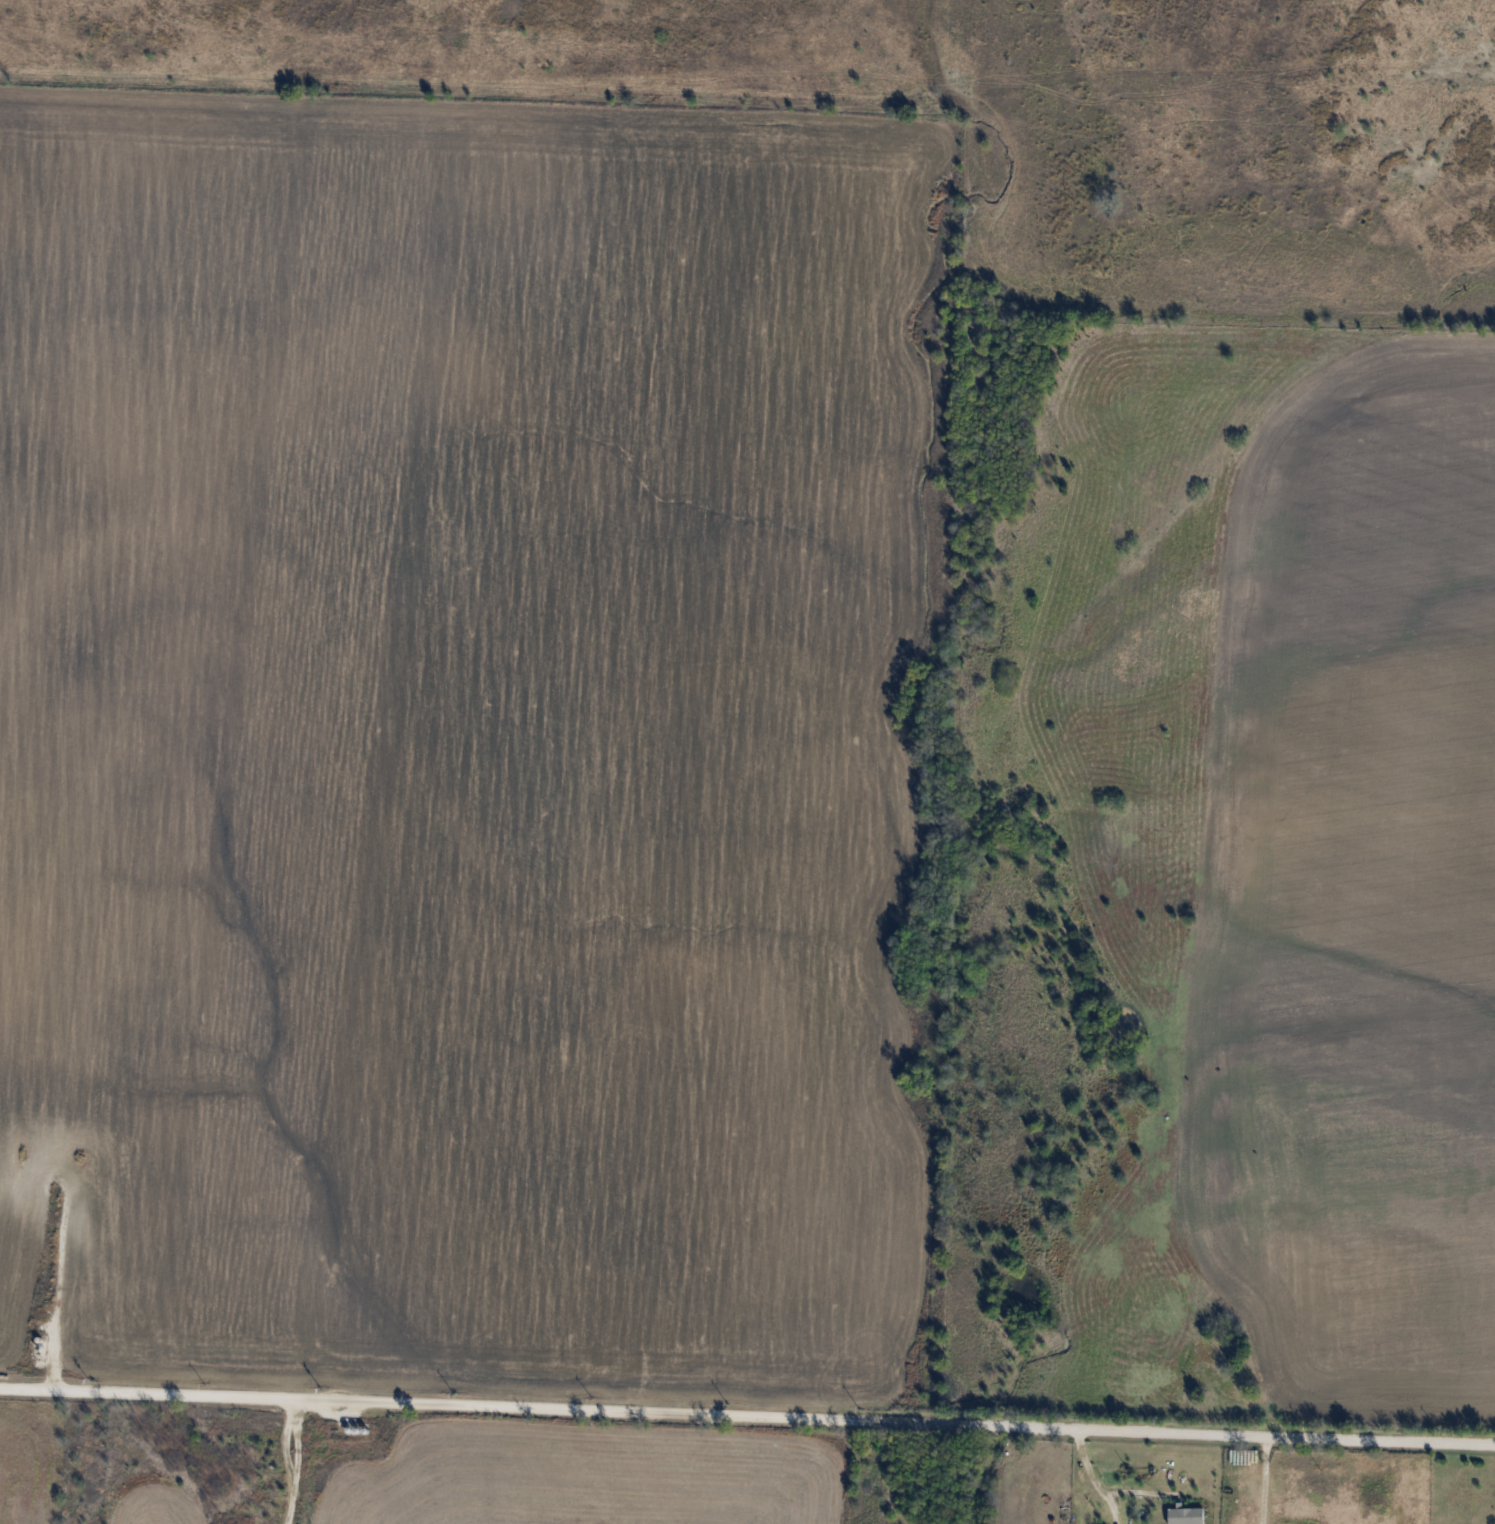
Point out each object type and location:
road: (747, 1416)
building: (1144, 1511)
building: (1183, 1515)

